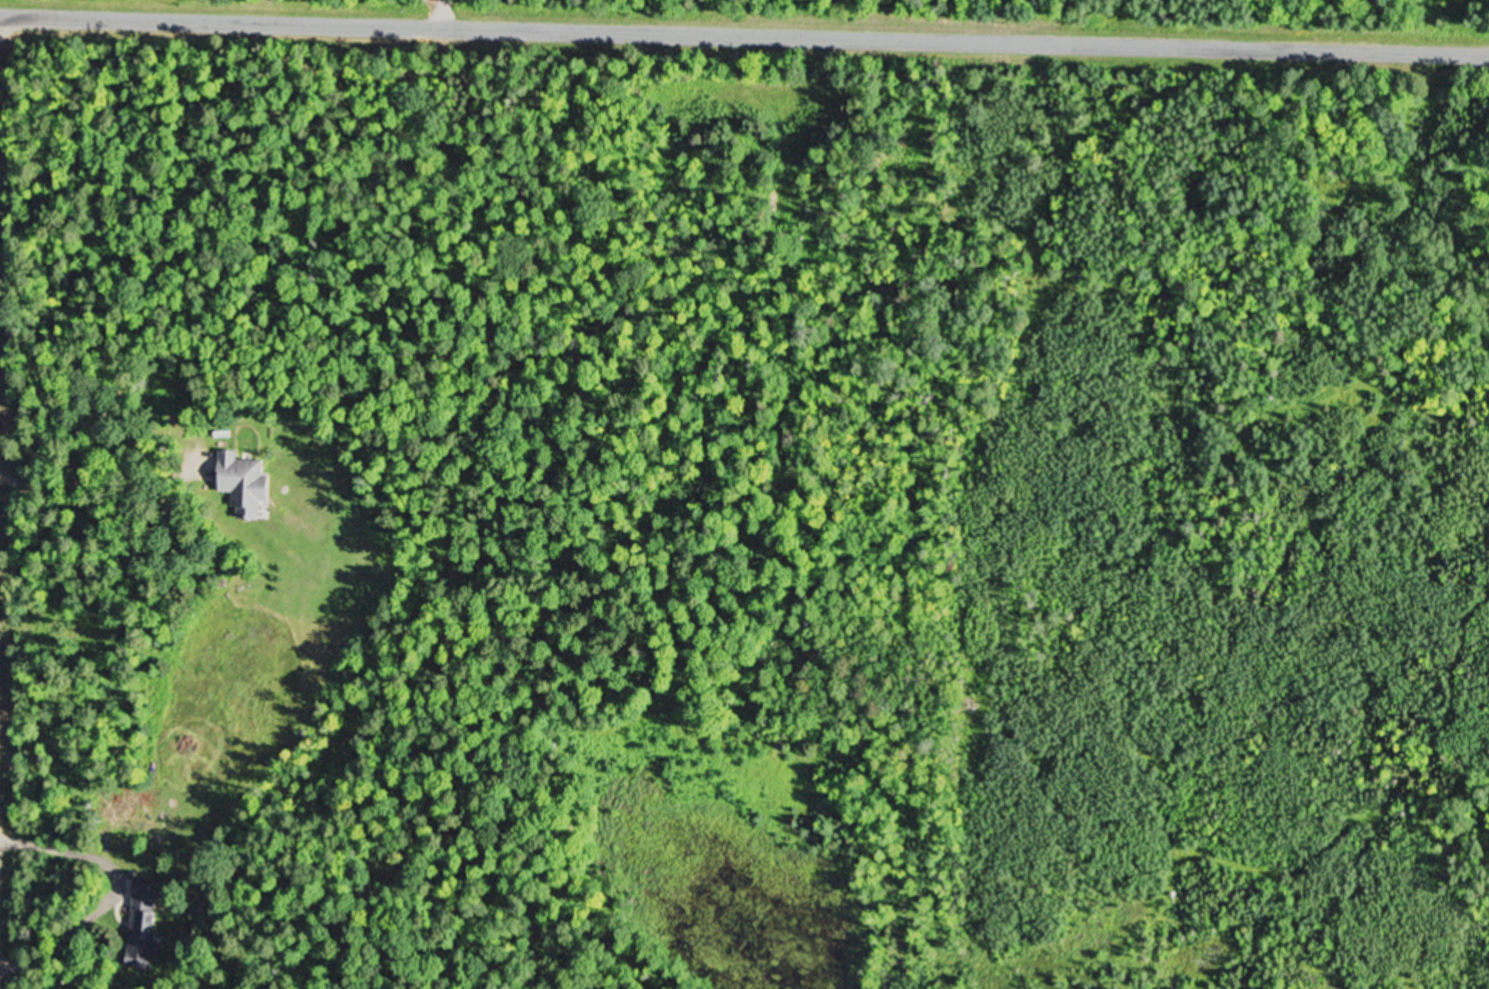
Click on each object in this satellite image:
road: (744, 31)
road: (92, 478)
building: (247, 481)
road: (50, 847)
building: (144, 919)

